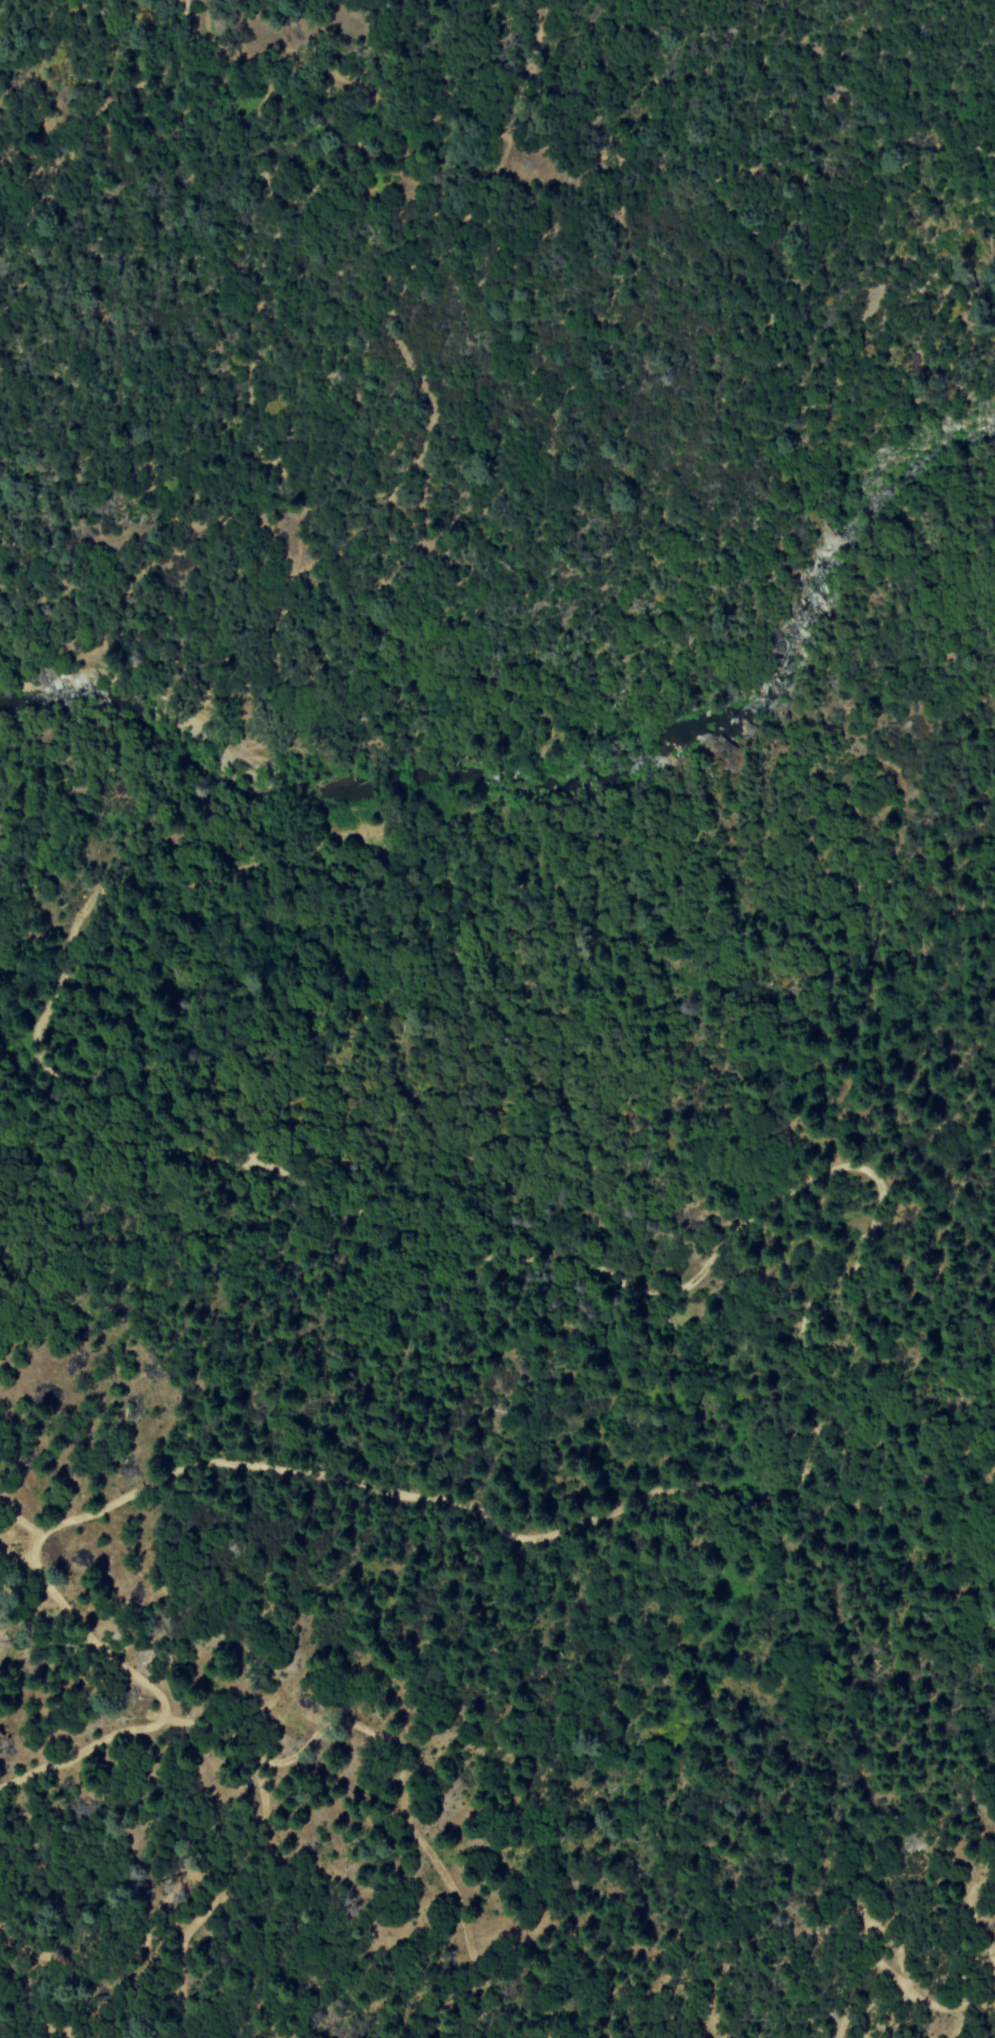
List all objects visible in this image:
river: (537, 797)

